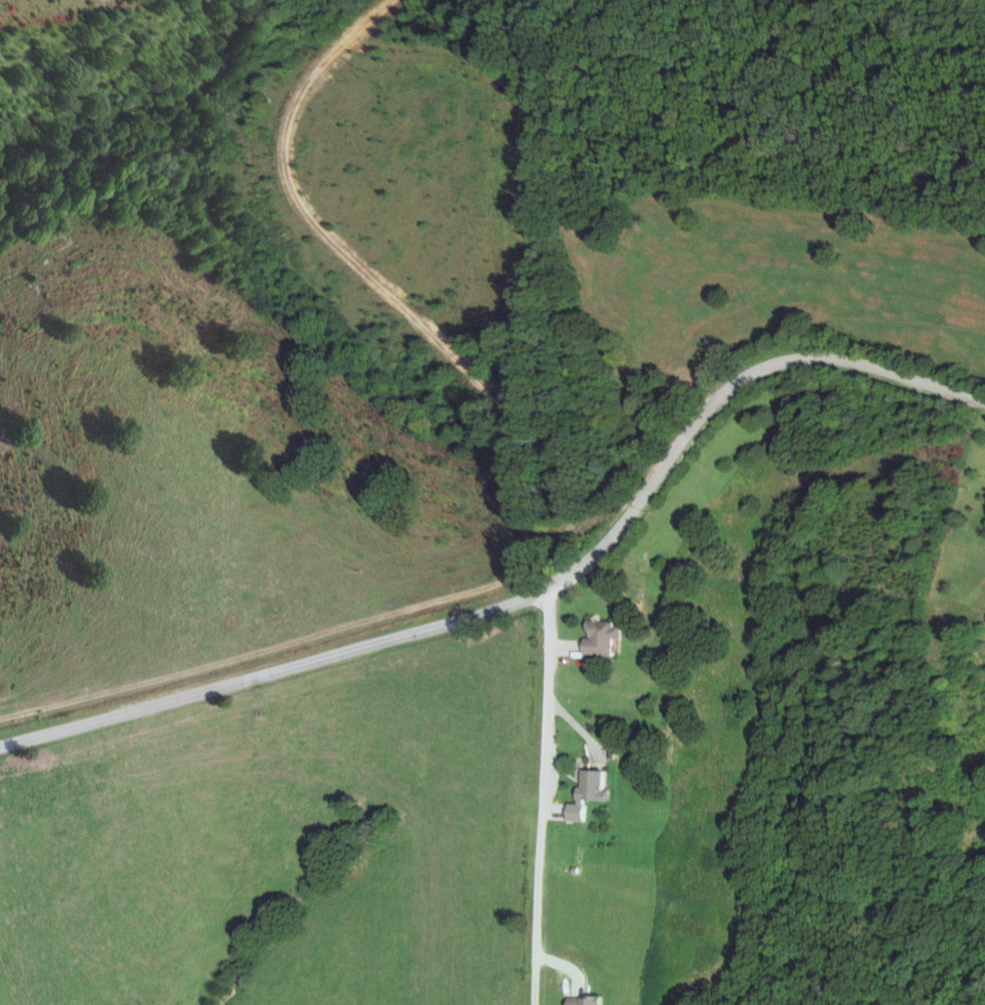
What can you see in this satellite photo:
road: (534, 598)
building: (598, 638)
building: (585, 794)
road: (541, 799)
building: (581, 1001)

